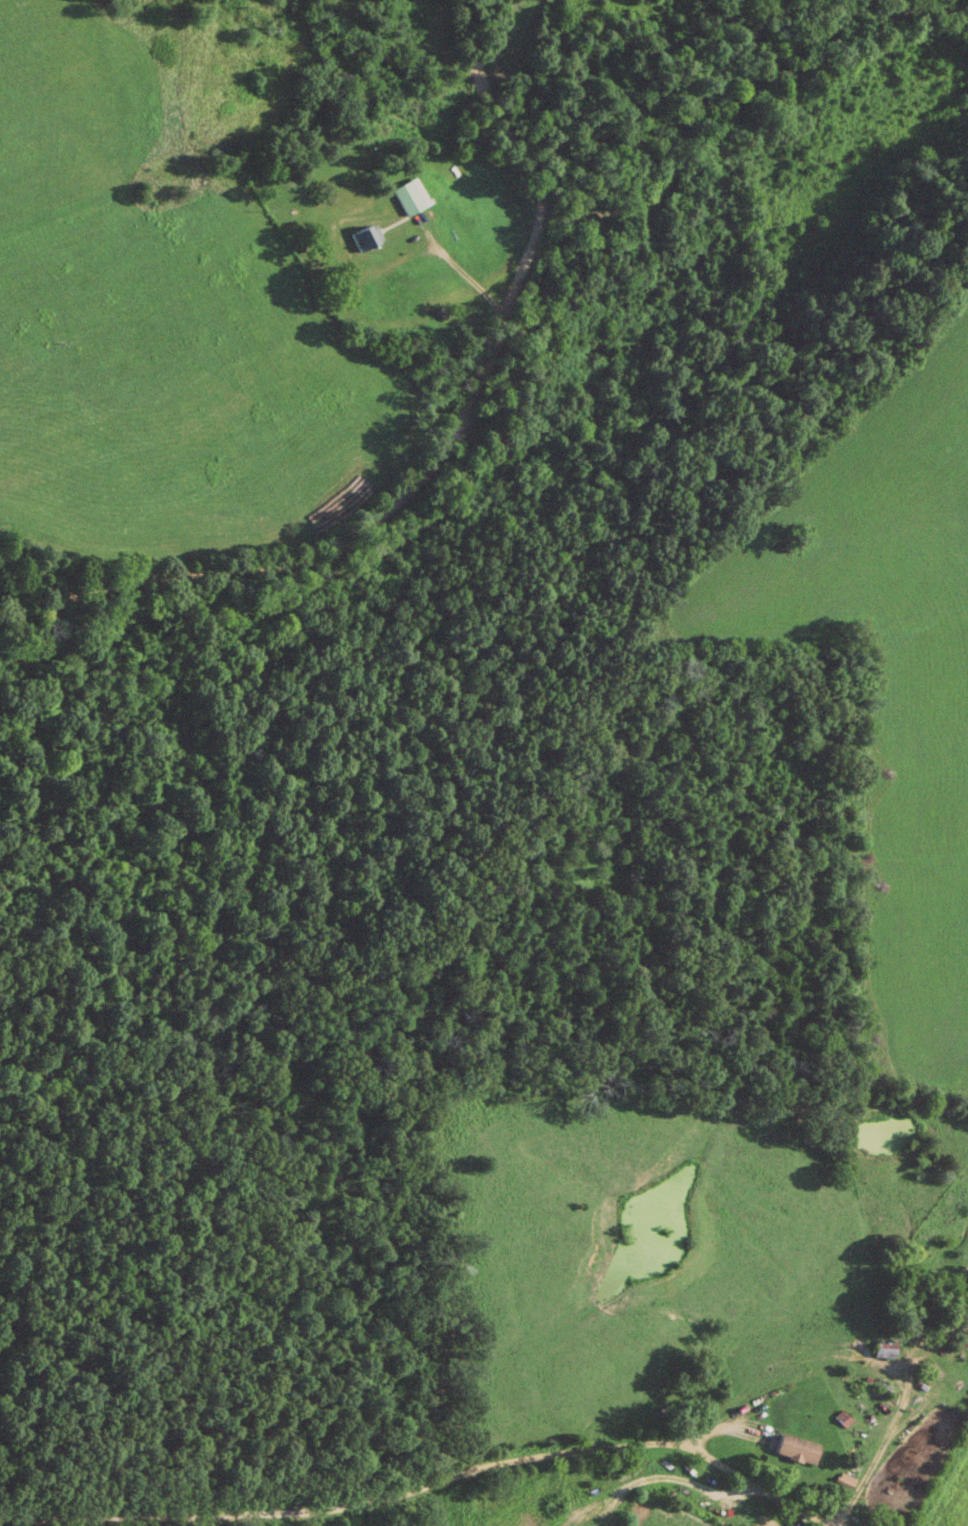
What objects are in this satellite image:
building: (405, 199)
building: (365, 236)
road: (442, 450)
building: (883, 1348)
road: (902, 1397)
building: (796, 1450)
road: (429, 1485)

